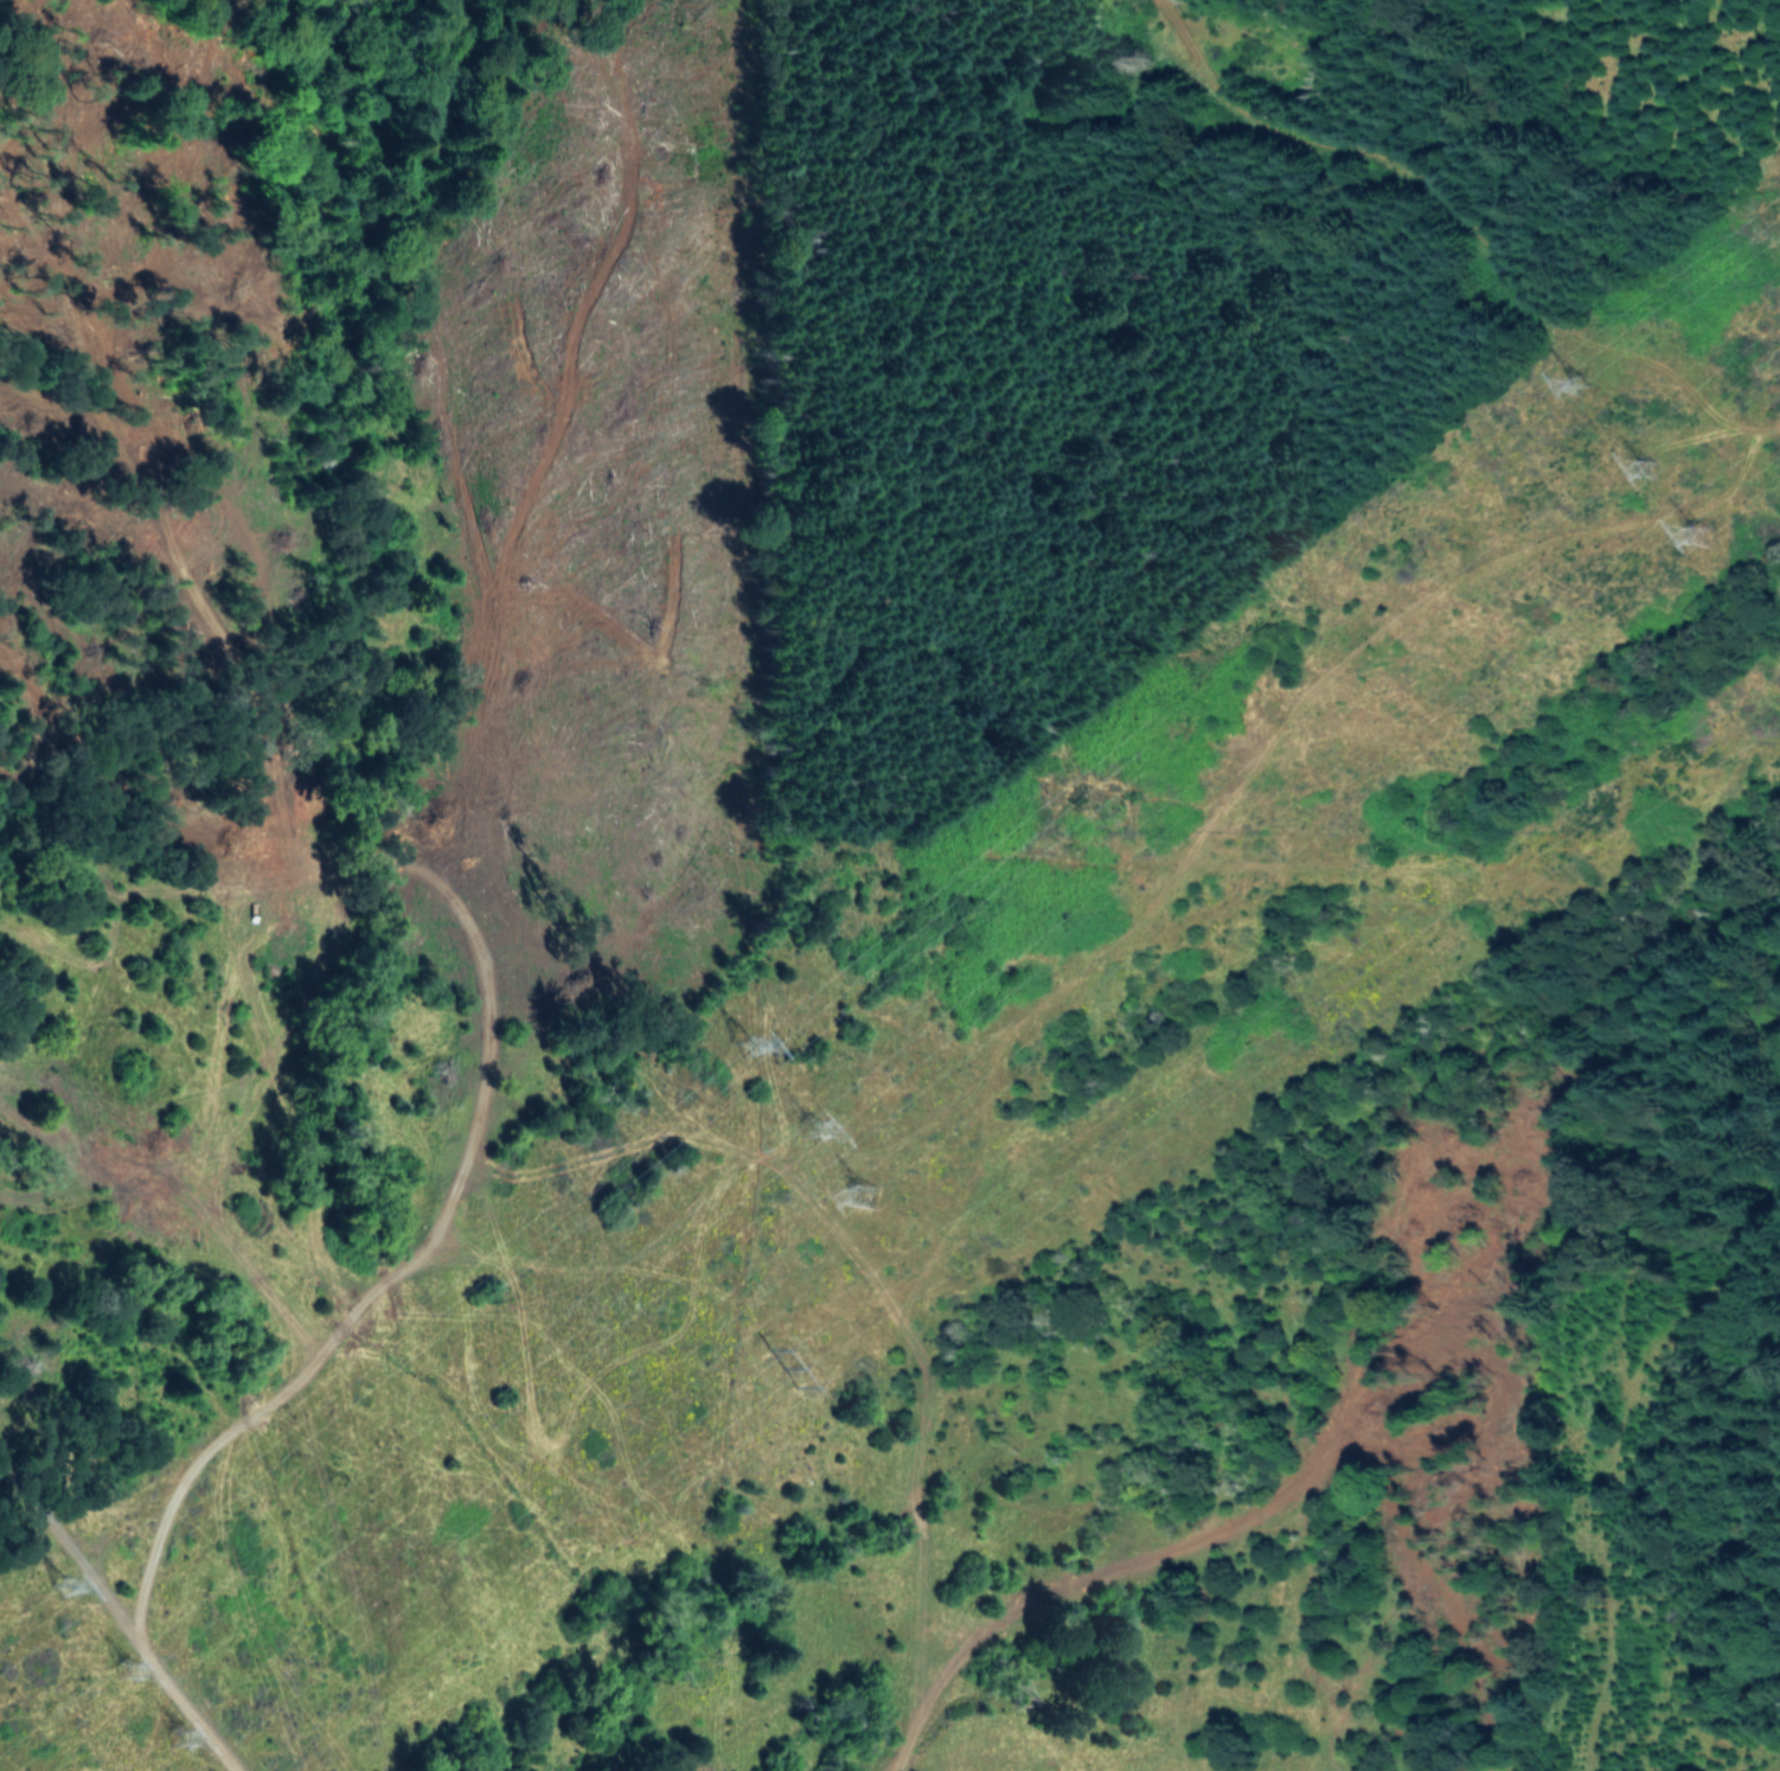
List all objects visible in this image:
power tower: (1595, 408)
power tower: (1666, 509)
power tower: (1717, 570)
power tower: (748, 1054)
power tower: (812, 1146)
power tower: (871, 1214)
road: (327, 1262)
power tower: (783, 1382)
power tower: (68, 1599)
road: (1026, 1611)
power tower: (133, 1675)
power tower: (183, 1752)

